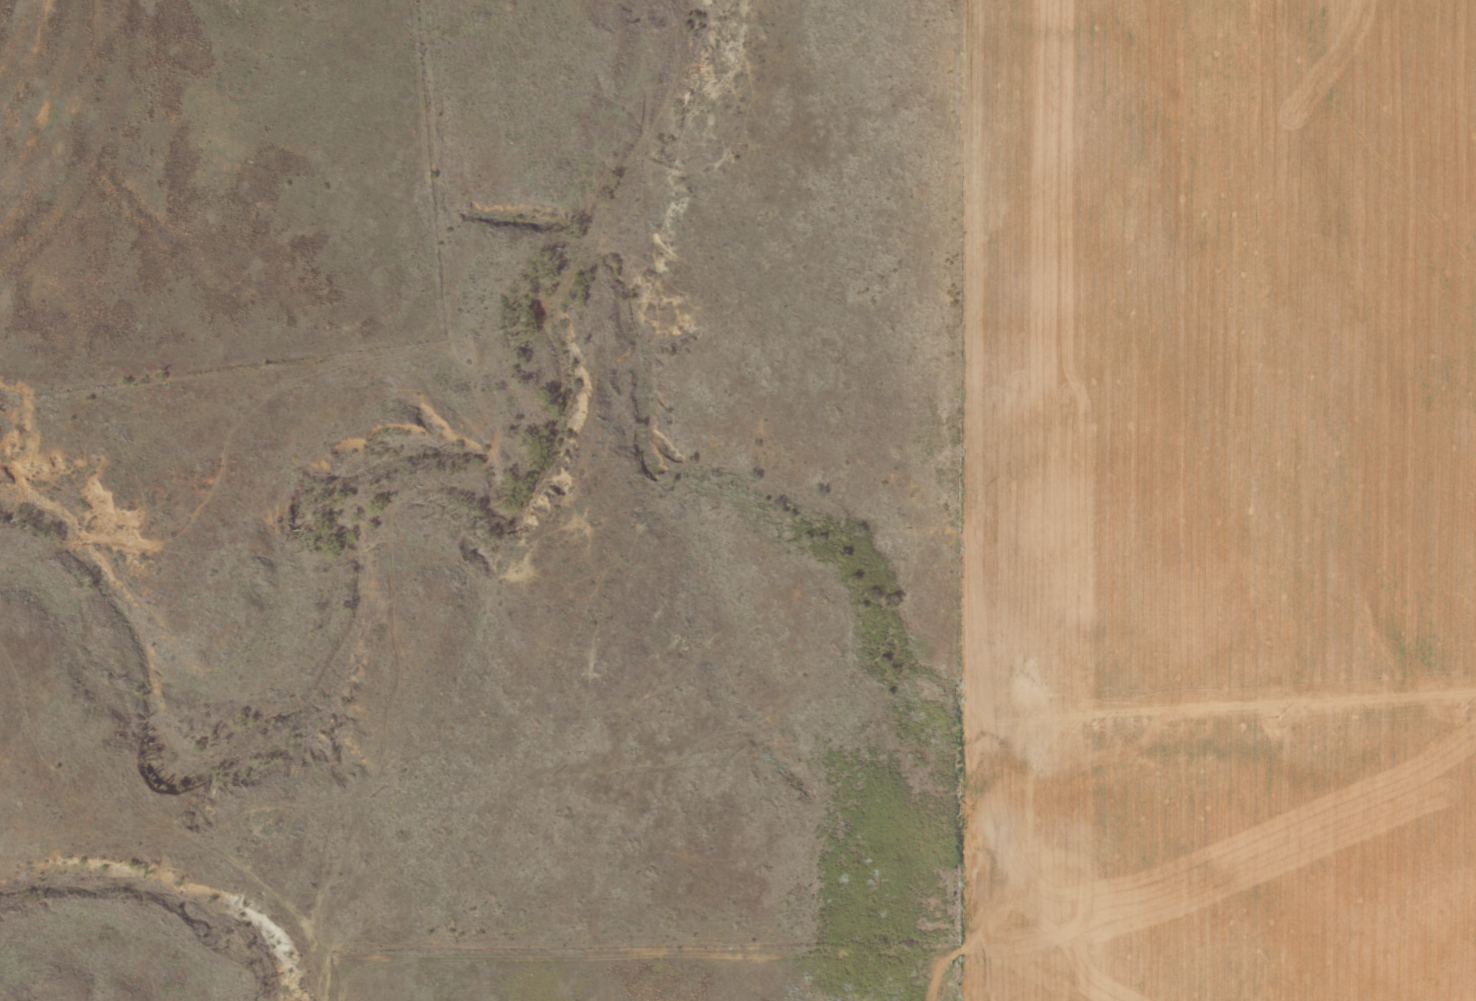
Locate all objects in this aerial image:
road: (972, 500)
road: (1241, 871)

